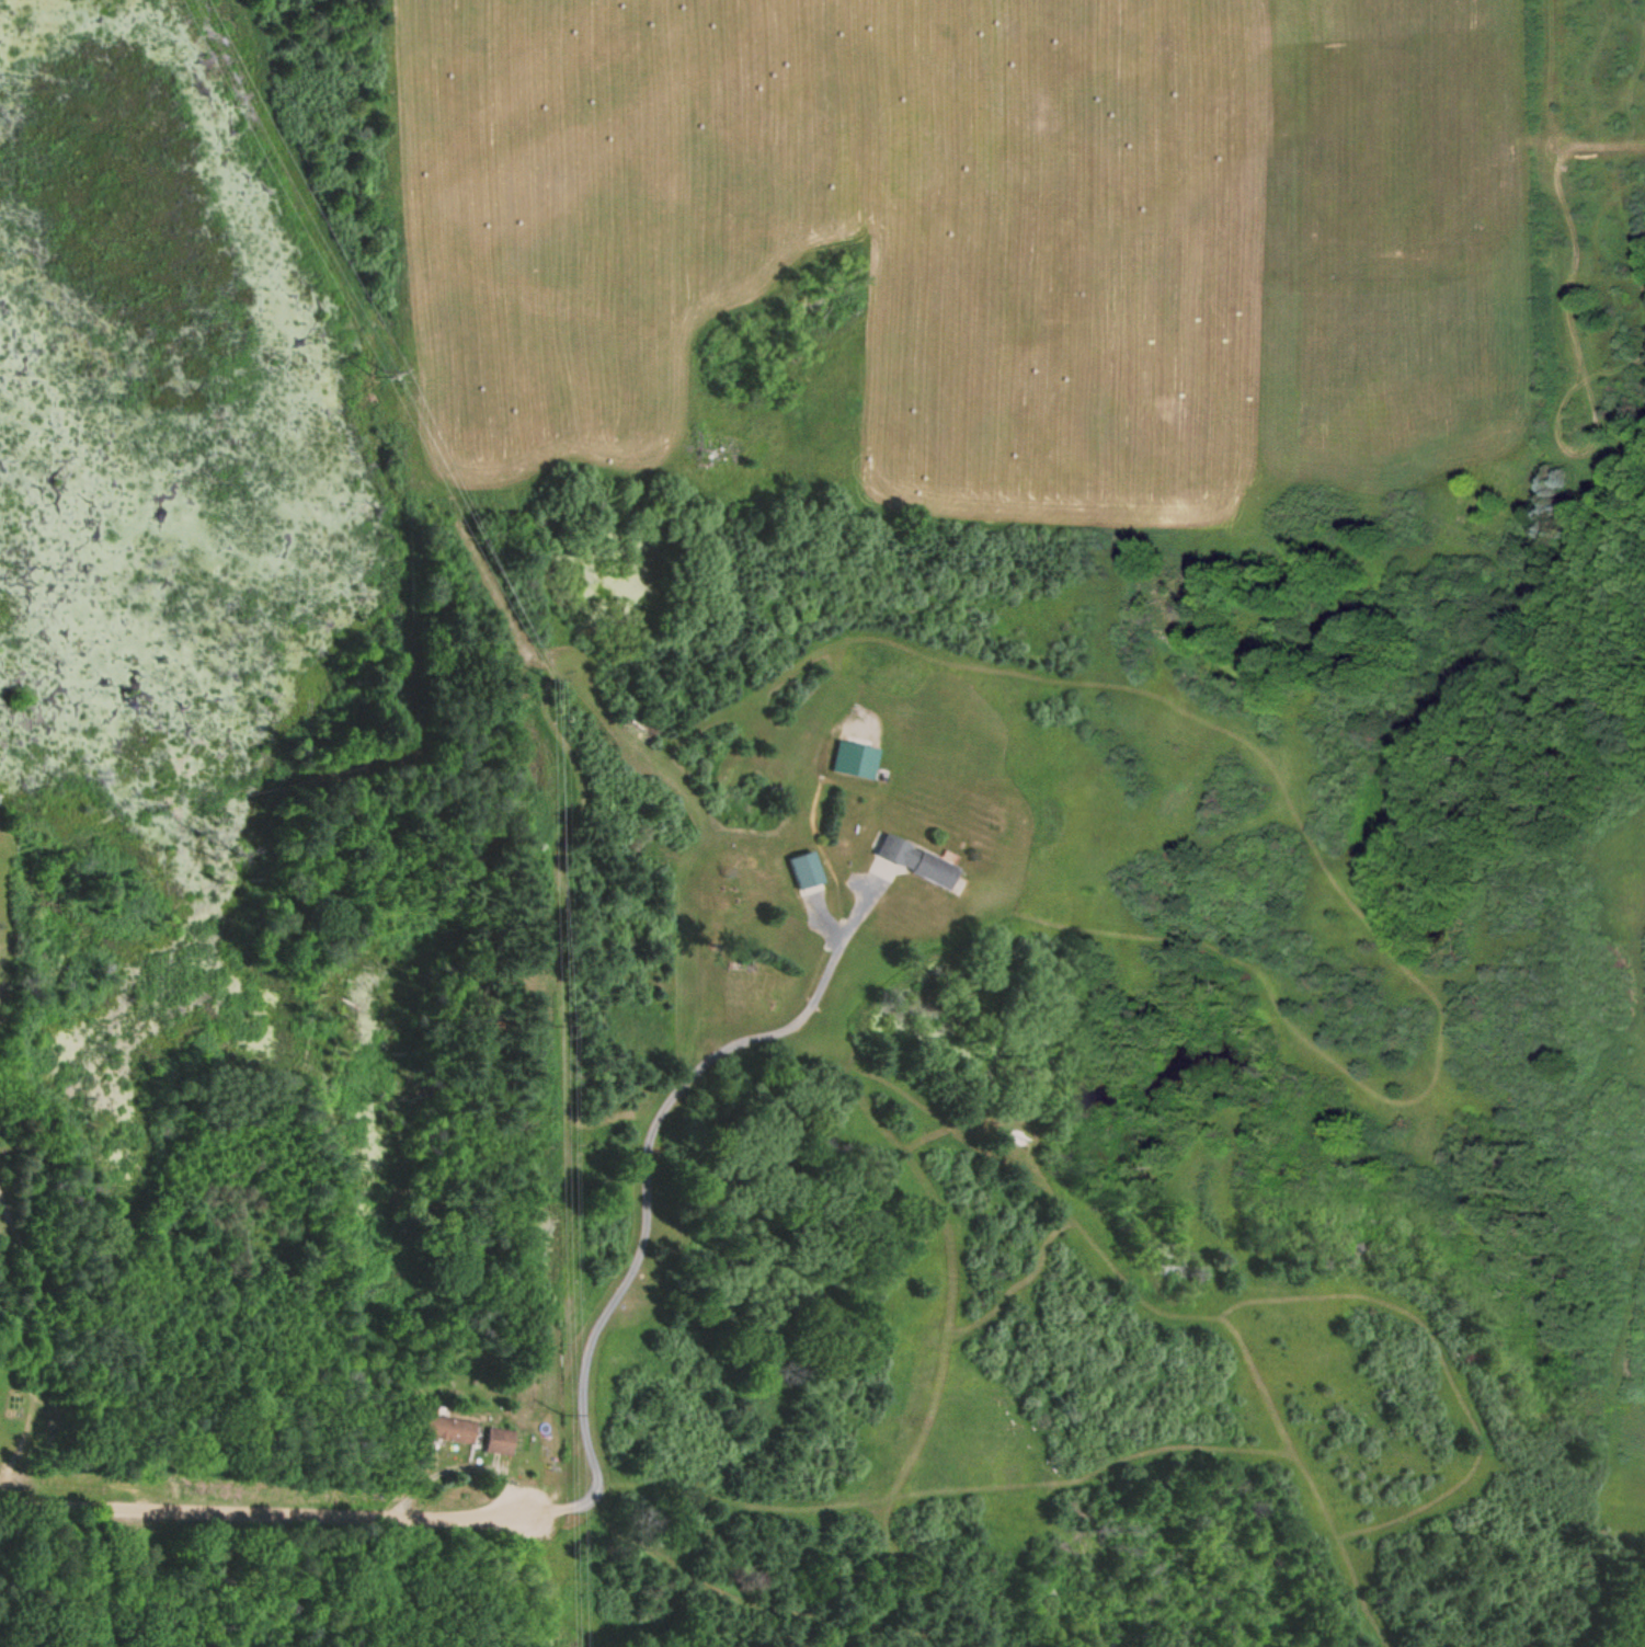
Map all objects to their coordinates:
power tower: (379, 376)
building: (854, 759)
building: (915, 861)
building: (806, 870)
building: (448, 1429)
building: (499, 1440)
road: (260, 1513)

